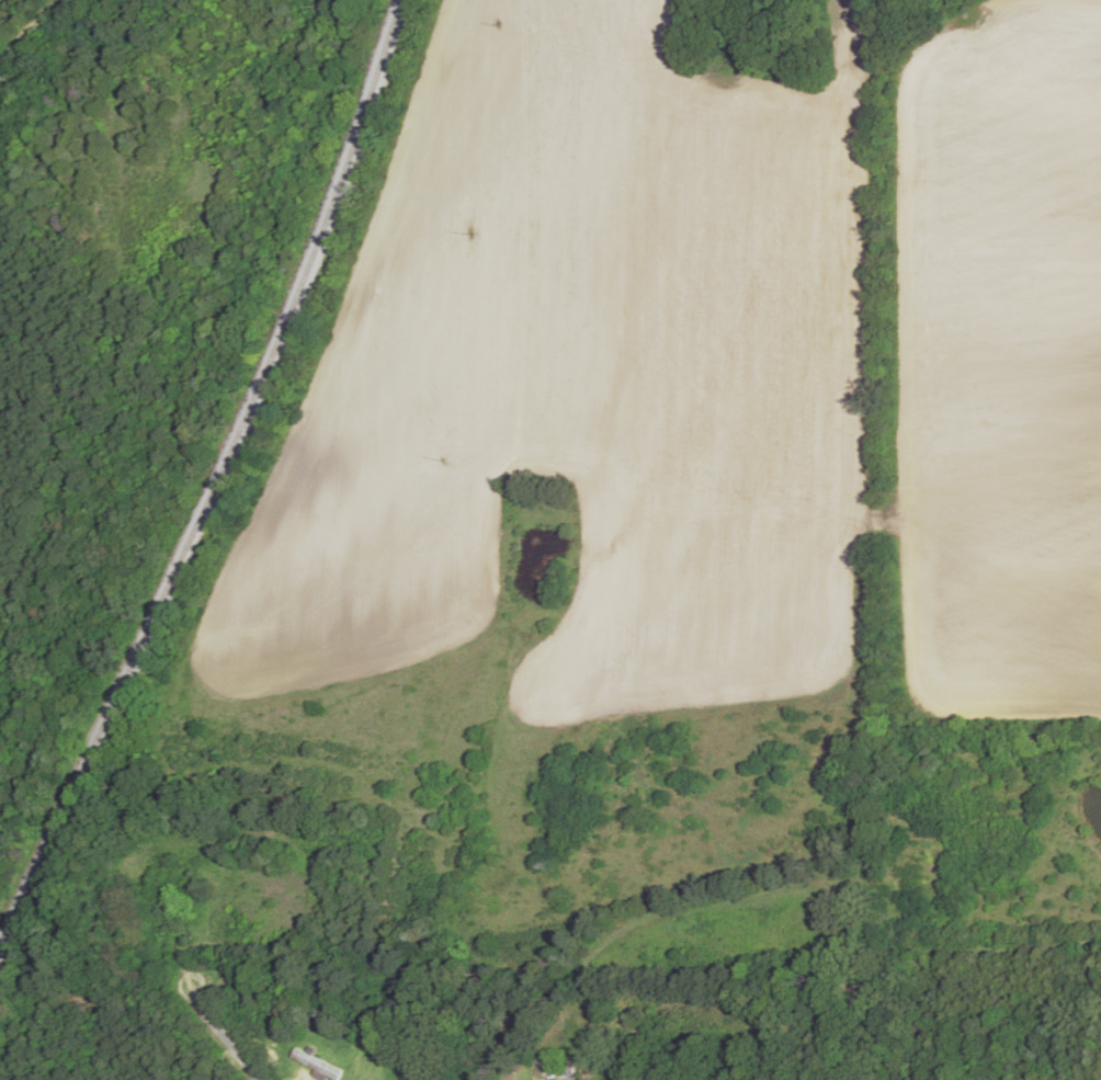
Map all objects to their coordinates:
railway: (217, 477)
road: (686, 921)
building: (317, 1065)
building: (409, 1079)

